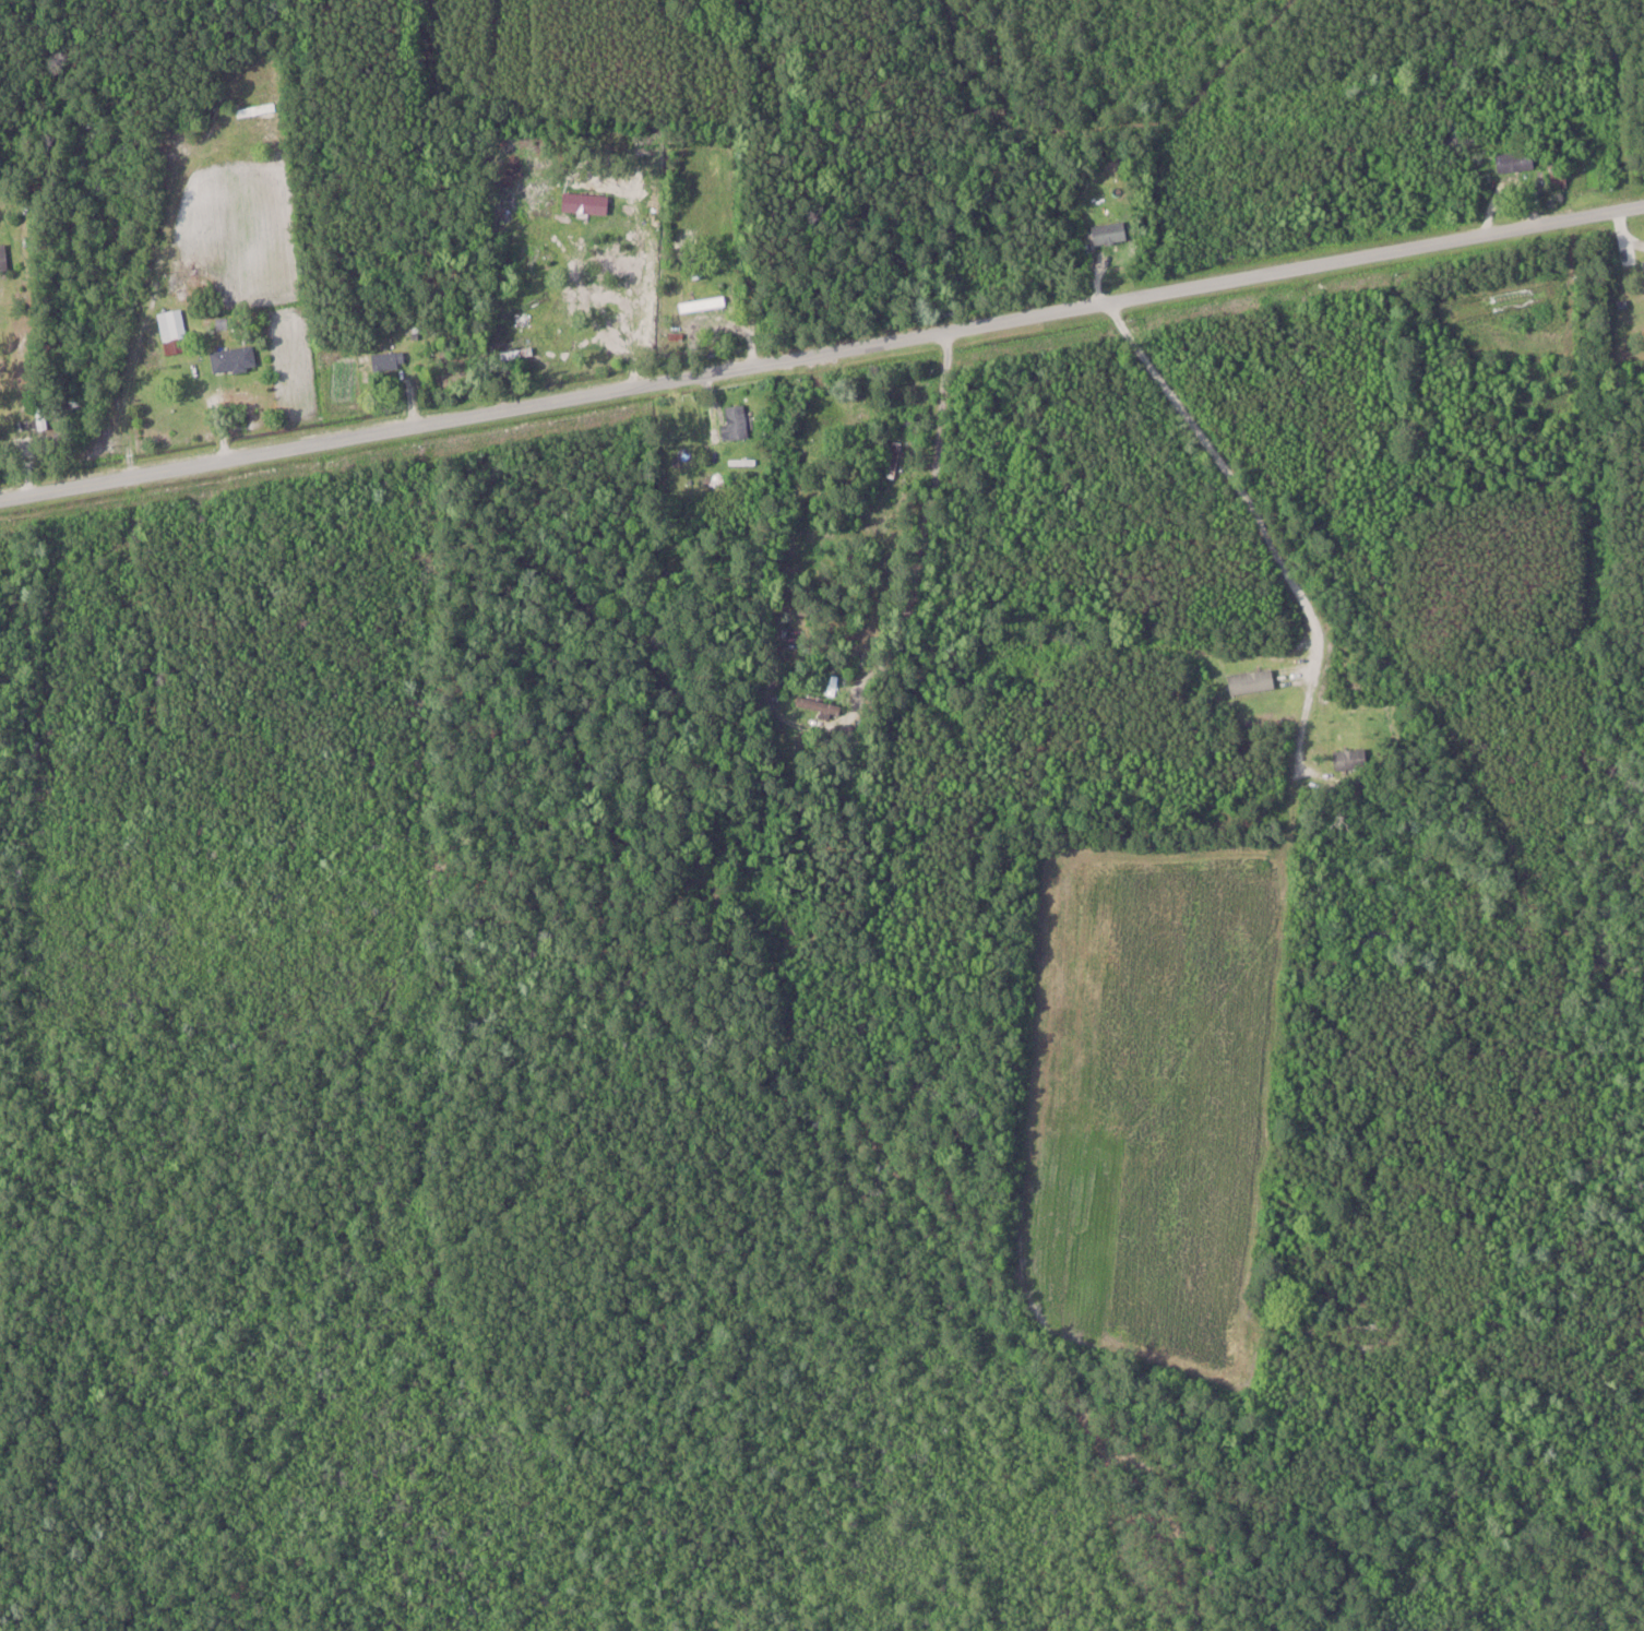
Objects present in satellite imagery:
building: (257, 109)
building: (1516, 160)
building: (587, 183)
building: (586, 202)
building: (1110, 234)
building: (3, 258)
building: (703, 303)
building: (172, 324)
road: (135, 335)
road: (821, 353)
building: (516, 354)
building: (234, 359)
building: (389, 360)
building: (918, 419)
building: (737, 420)
building: (894, 457)
road: (1238, 485)
building: (819, 702)
road: (950, 704)

